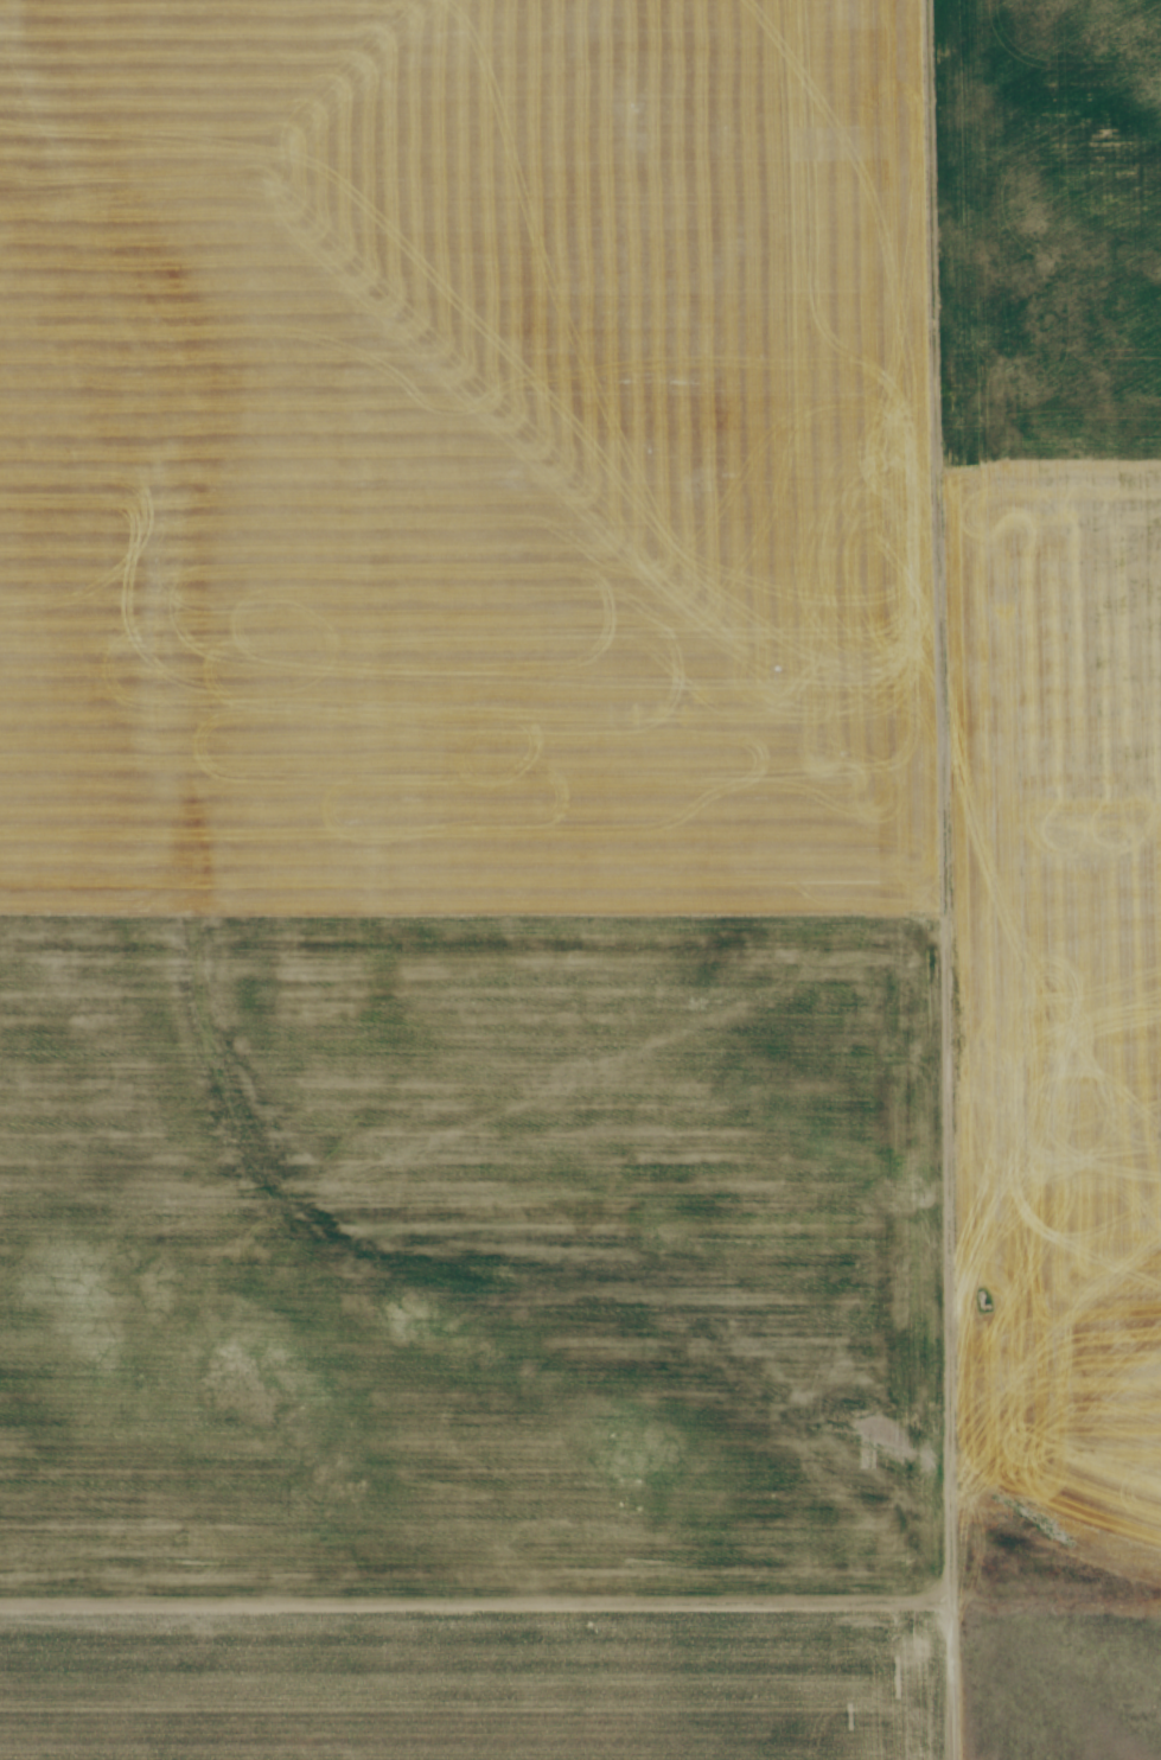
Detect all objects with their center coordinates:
crop: (579, 795)
road: (944, 879)

